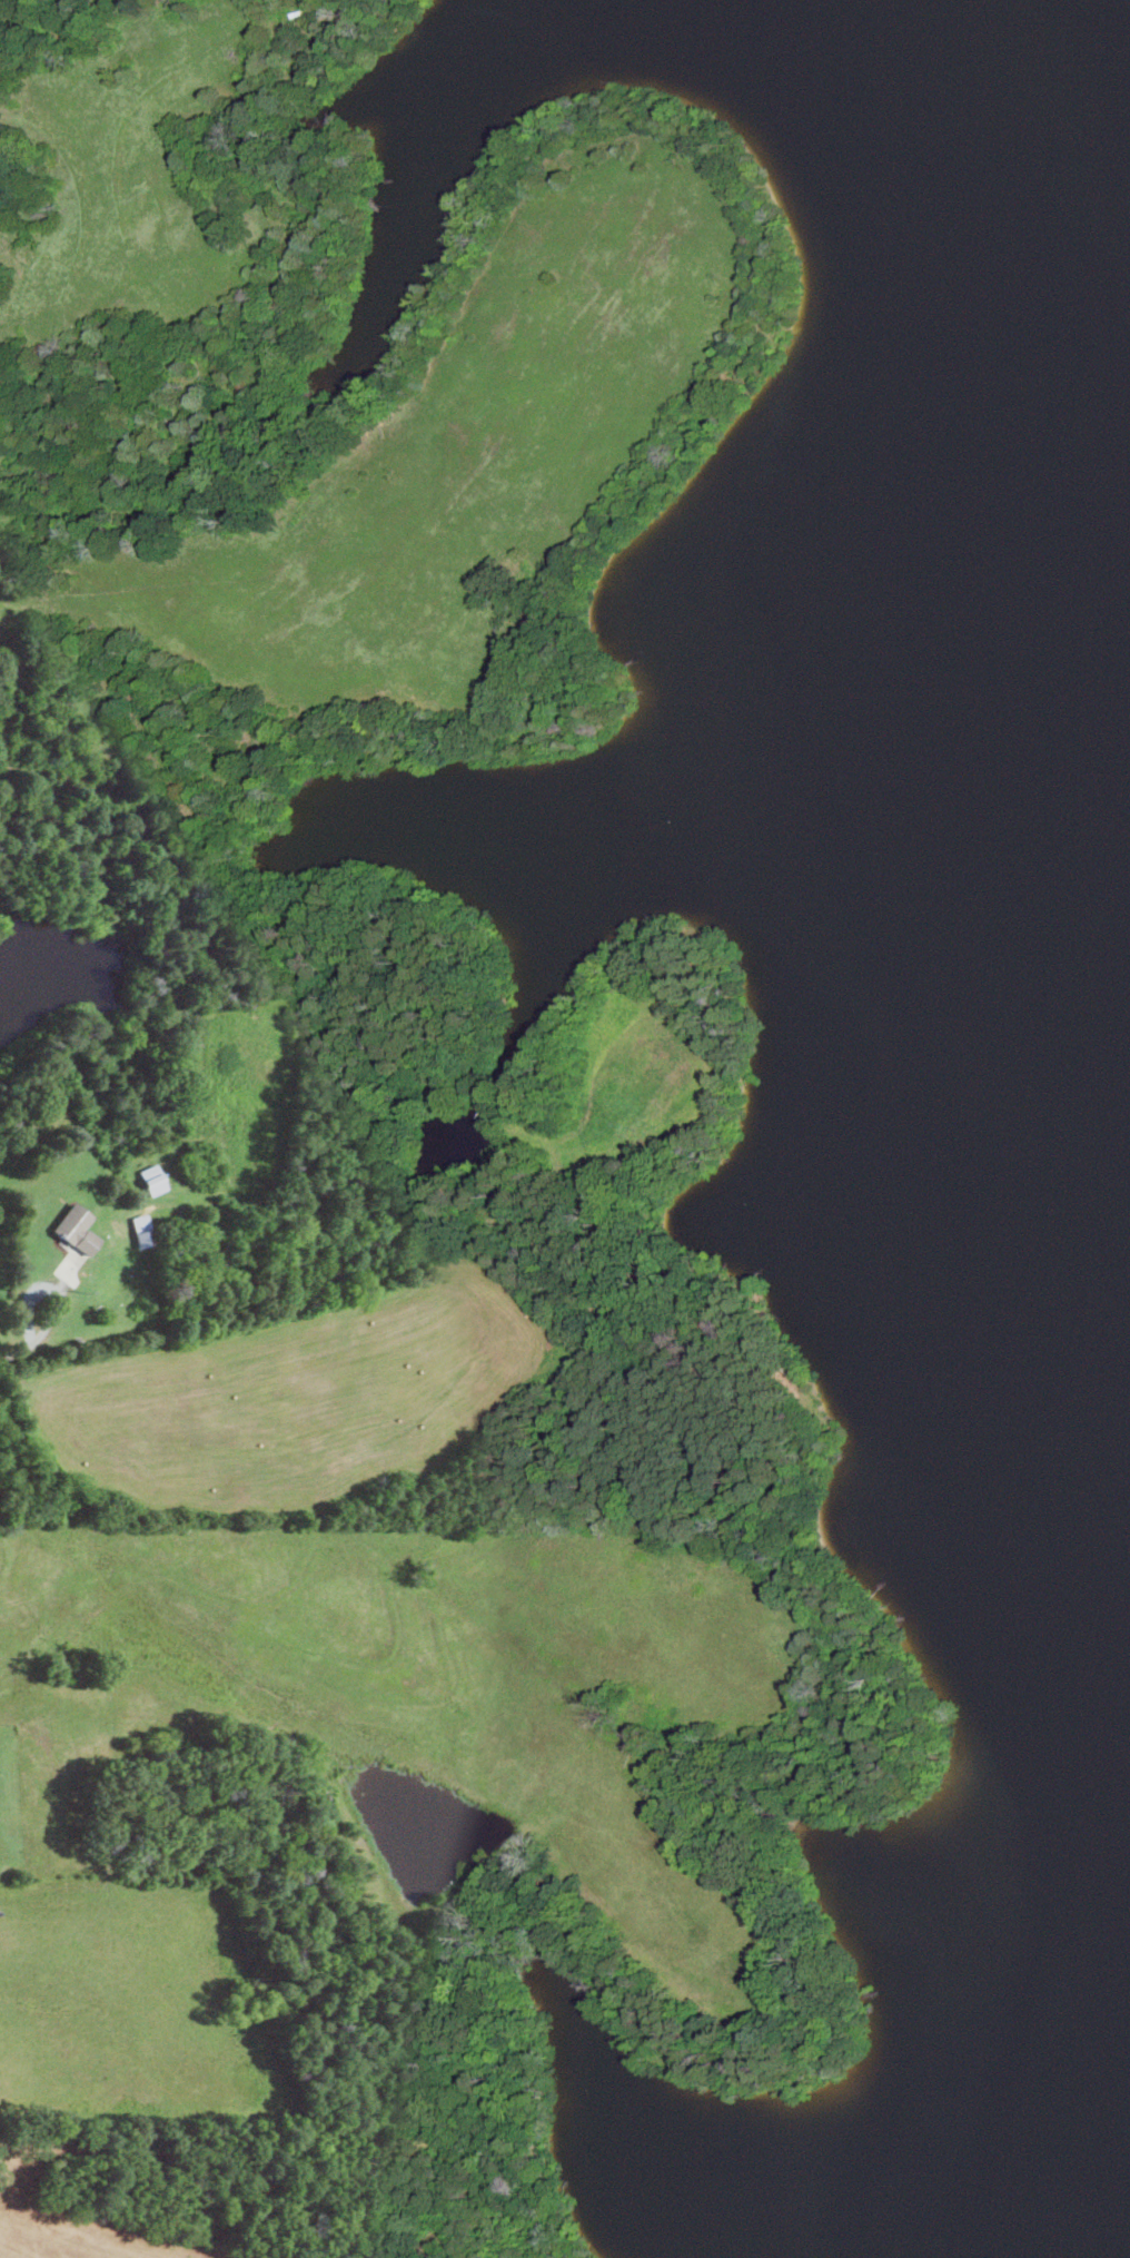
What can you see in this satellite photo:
building: (77, 1230)
building: (142, 1231)
road: (54, 1305)
road: (71, 1339)

